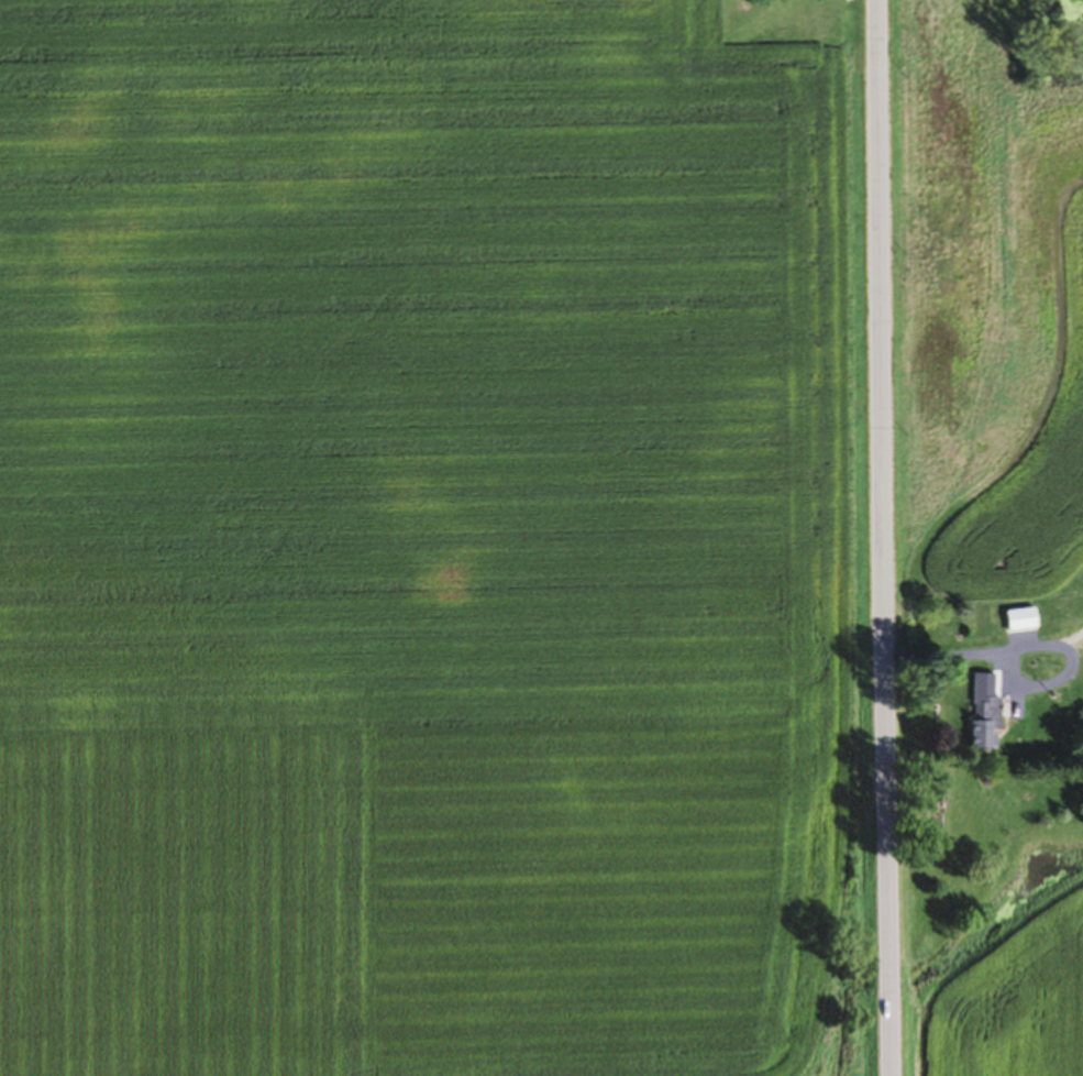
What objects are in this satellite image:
road: (875, 538)
building: (1015, 625)
road: (982, 659)
building: (980, 720)

